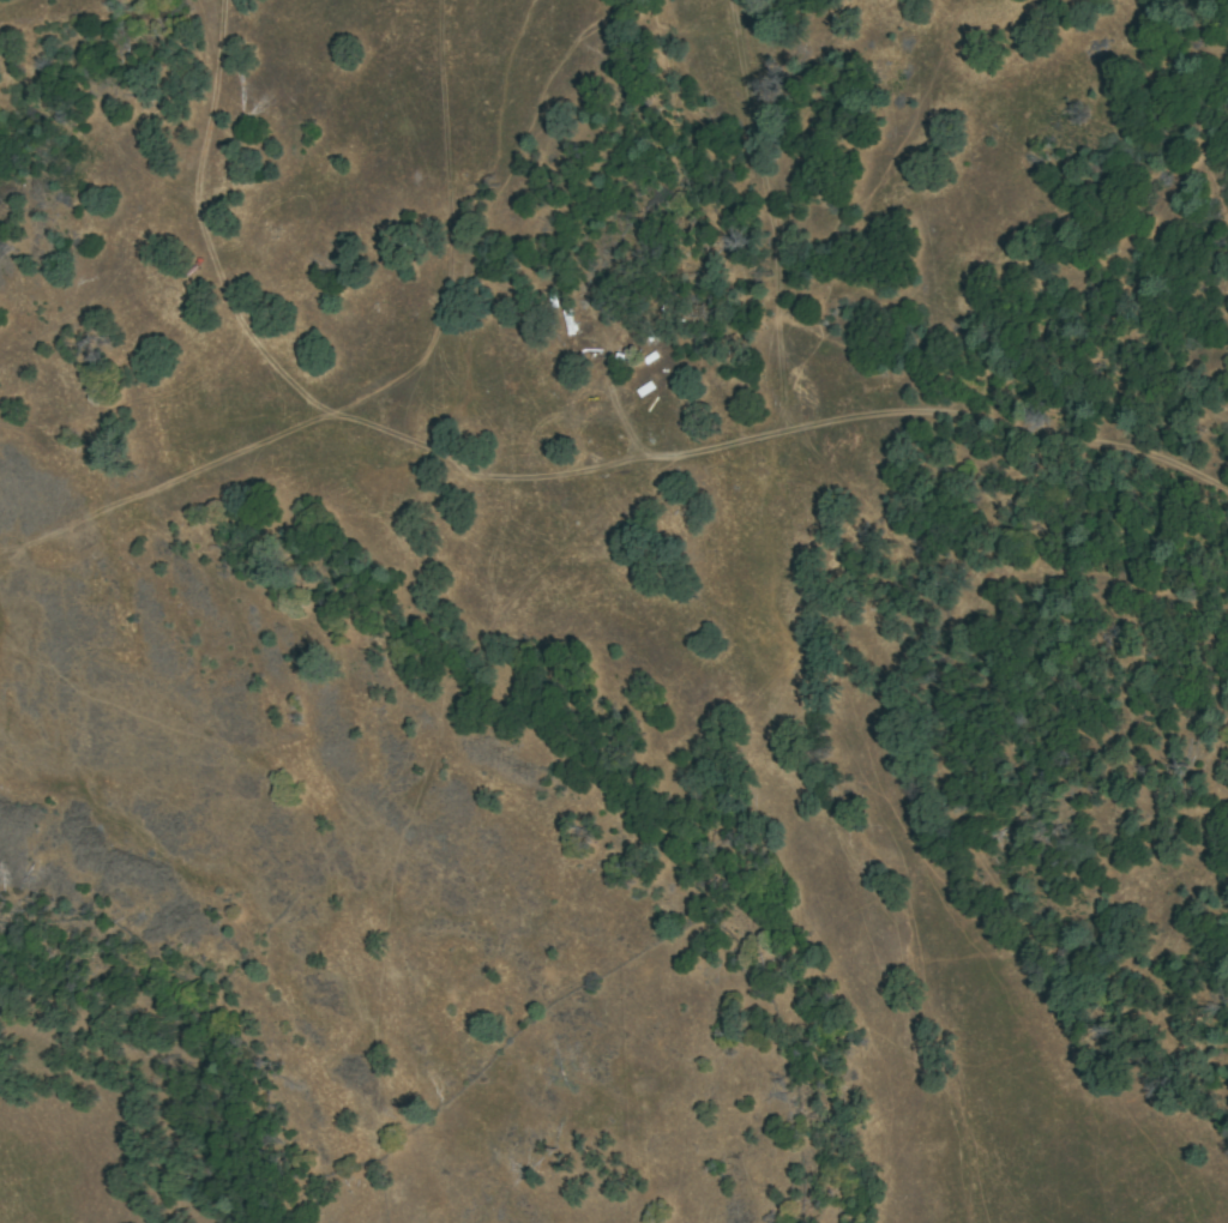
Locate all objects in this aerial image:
road: (758, 215)
road: (450, 223)
building: (570, 321)
building: (651, 357)
building: (645, 390)
road: (336, 412)
road: (1009, 429)

